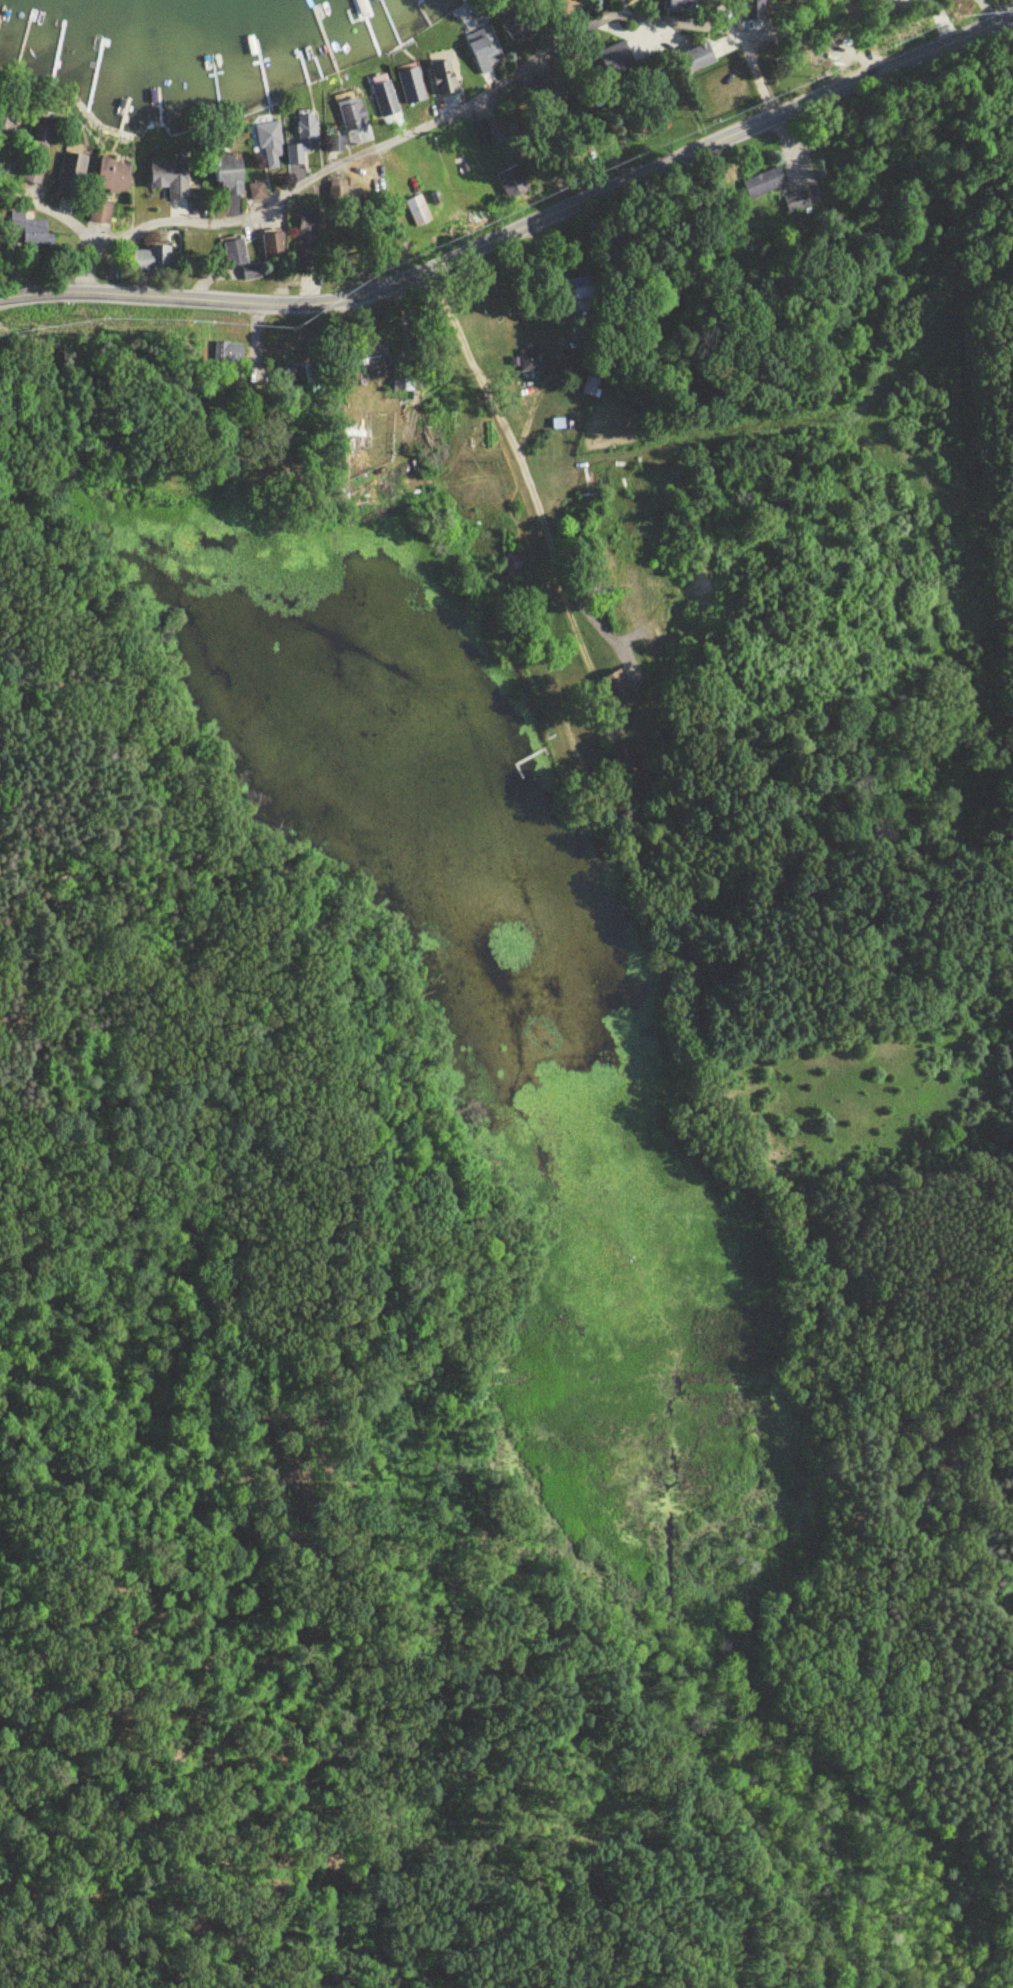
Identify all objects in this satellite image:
building: (882, 5)
building: (687, 6)
road: (811, 42)
building: (690, 62)
building: (445, 83)
building: (410, 88)
road: (410, 127)
building: (335, 135)
building: (303, 140)
building: (271, 148)
building: (114, 180)
building: (239, 180)
building: (765, 185)
building: (797, 205)
building: (417, 214)
road: (520, 222)
building: (32, 235)
building: (235, 255)
building: (153, 262)
road: (82, 268)
building: (581, 299)
road: (554, 306)
building: (405, 380)
building: (590, 389)
road: (520, 477)
building: (618, 688)

